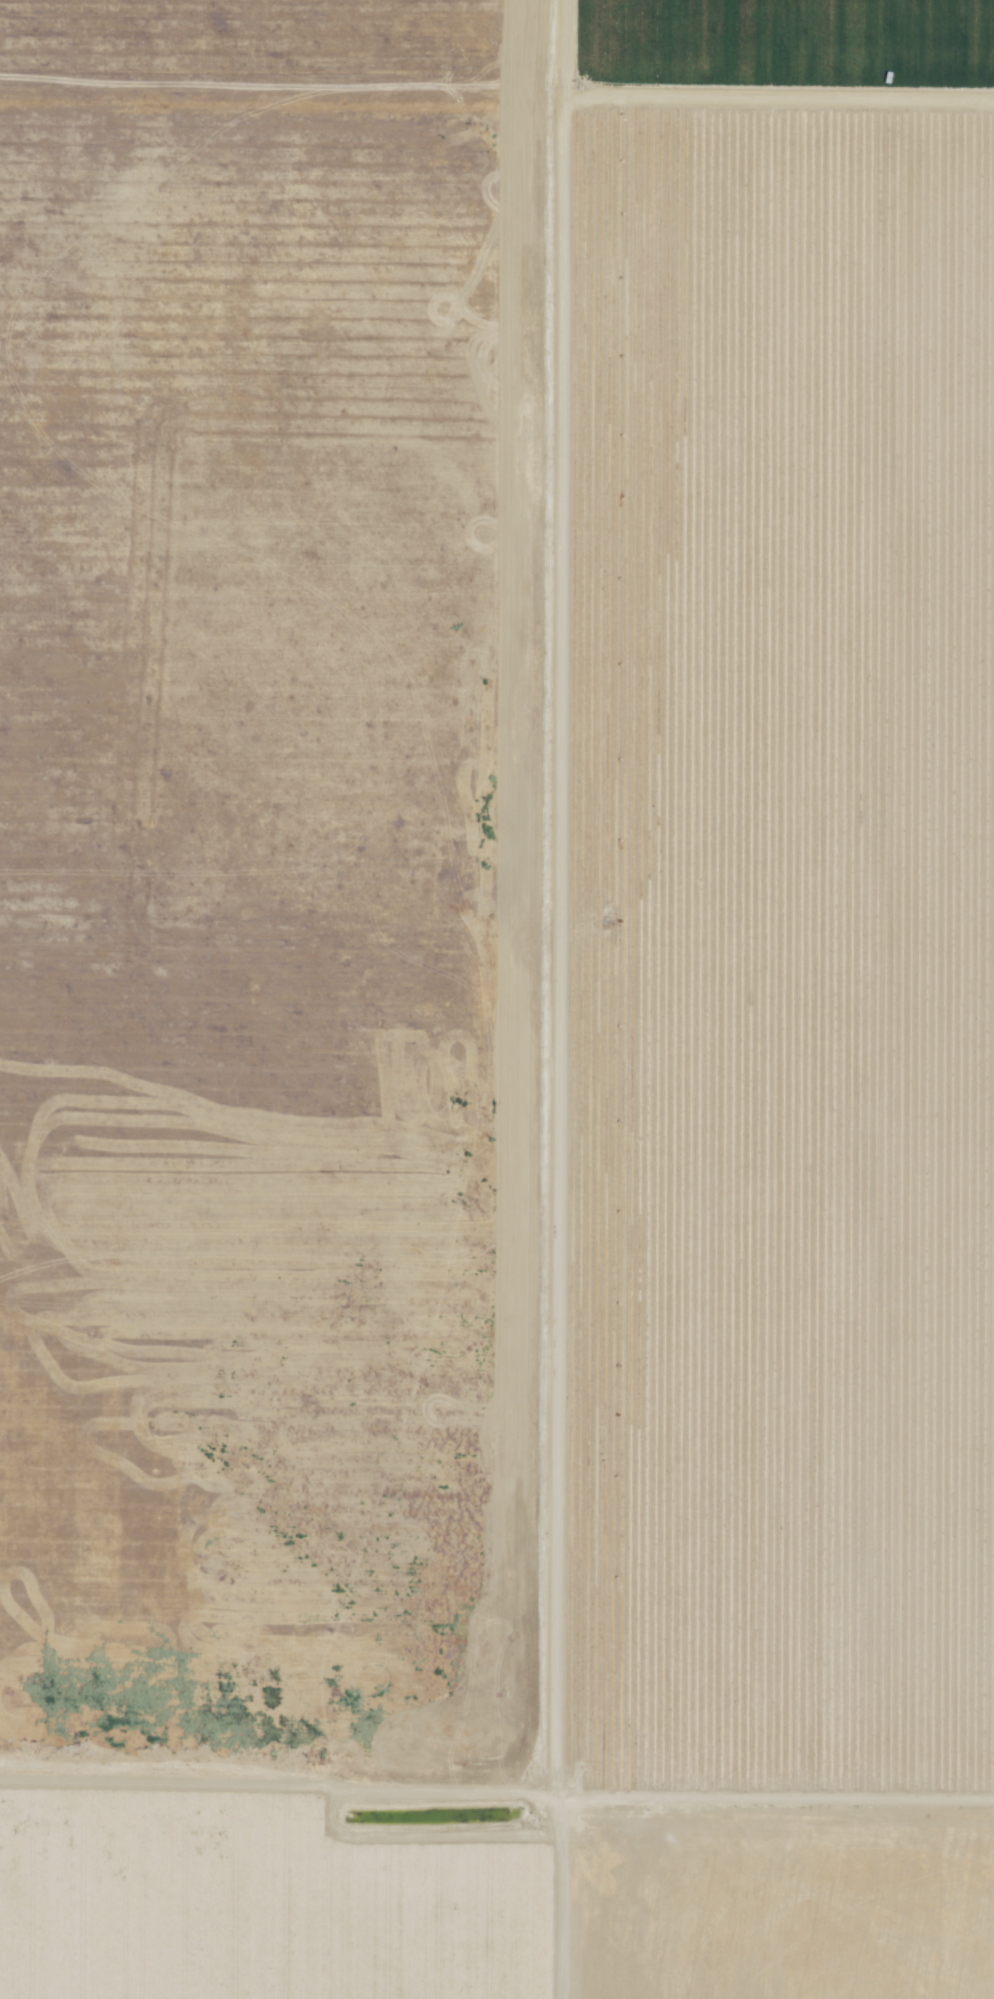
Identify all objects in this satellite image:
crop: (770, 57)
road: (796, 105)
road: (592, 999)
airport: (184, 1512)
road: (858, 1786)

